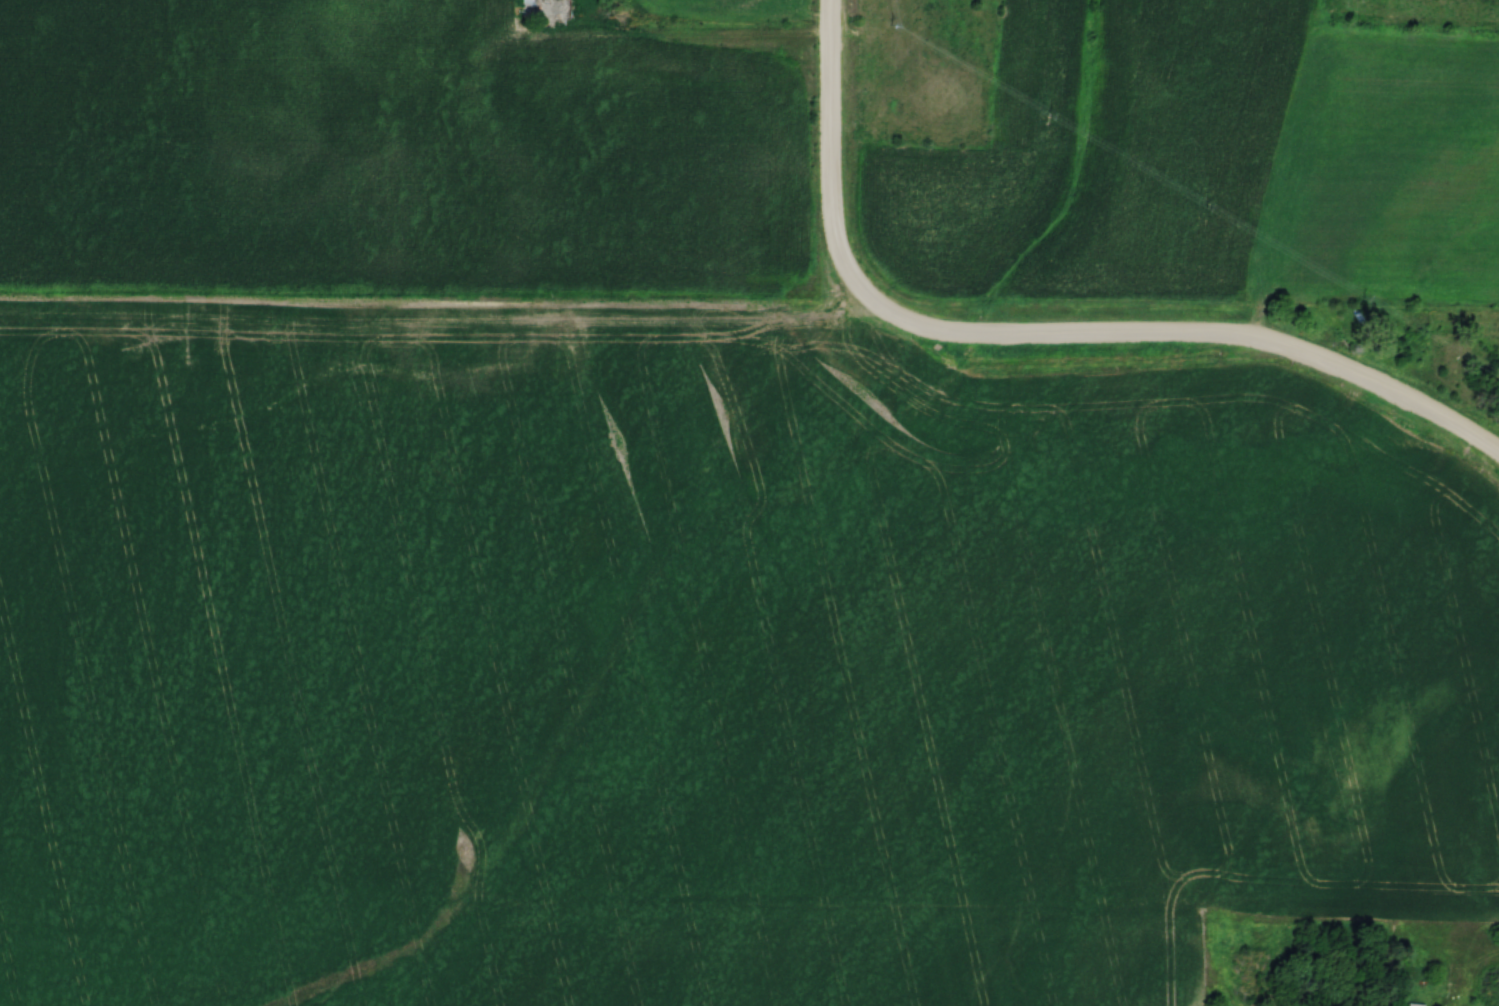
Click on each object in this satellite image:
building: (545, 10)
road: (1037, 334)
building: (1304, 978)
building: (1498, 991)

